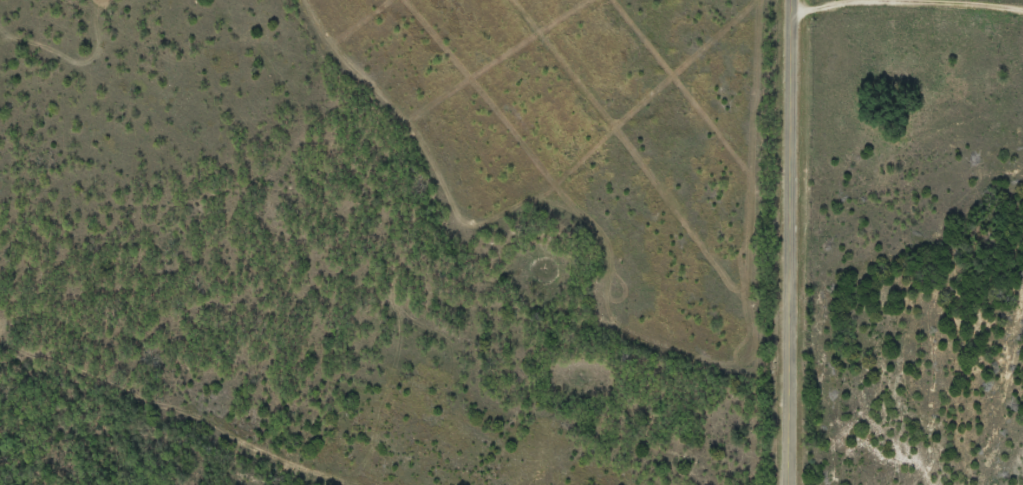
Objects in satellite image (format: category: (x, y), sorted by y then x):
road: (907, 6)
road: (789, 242)

